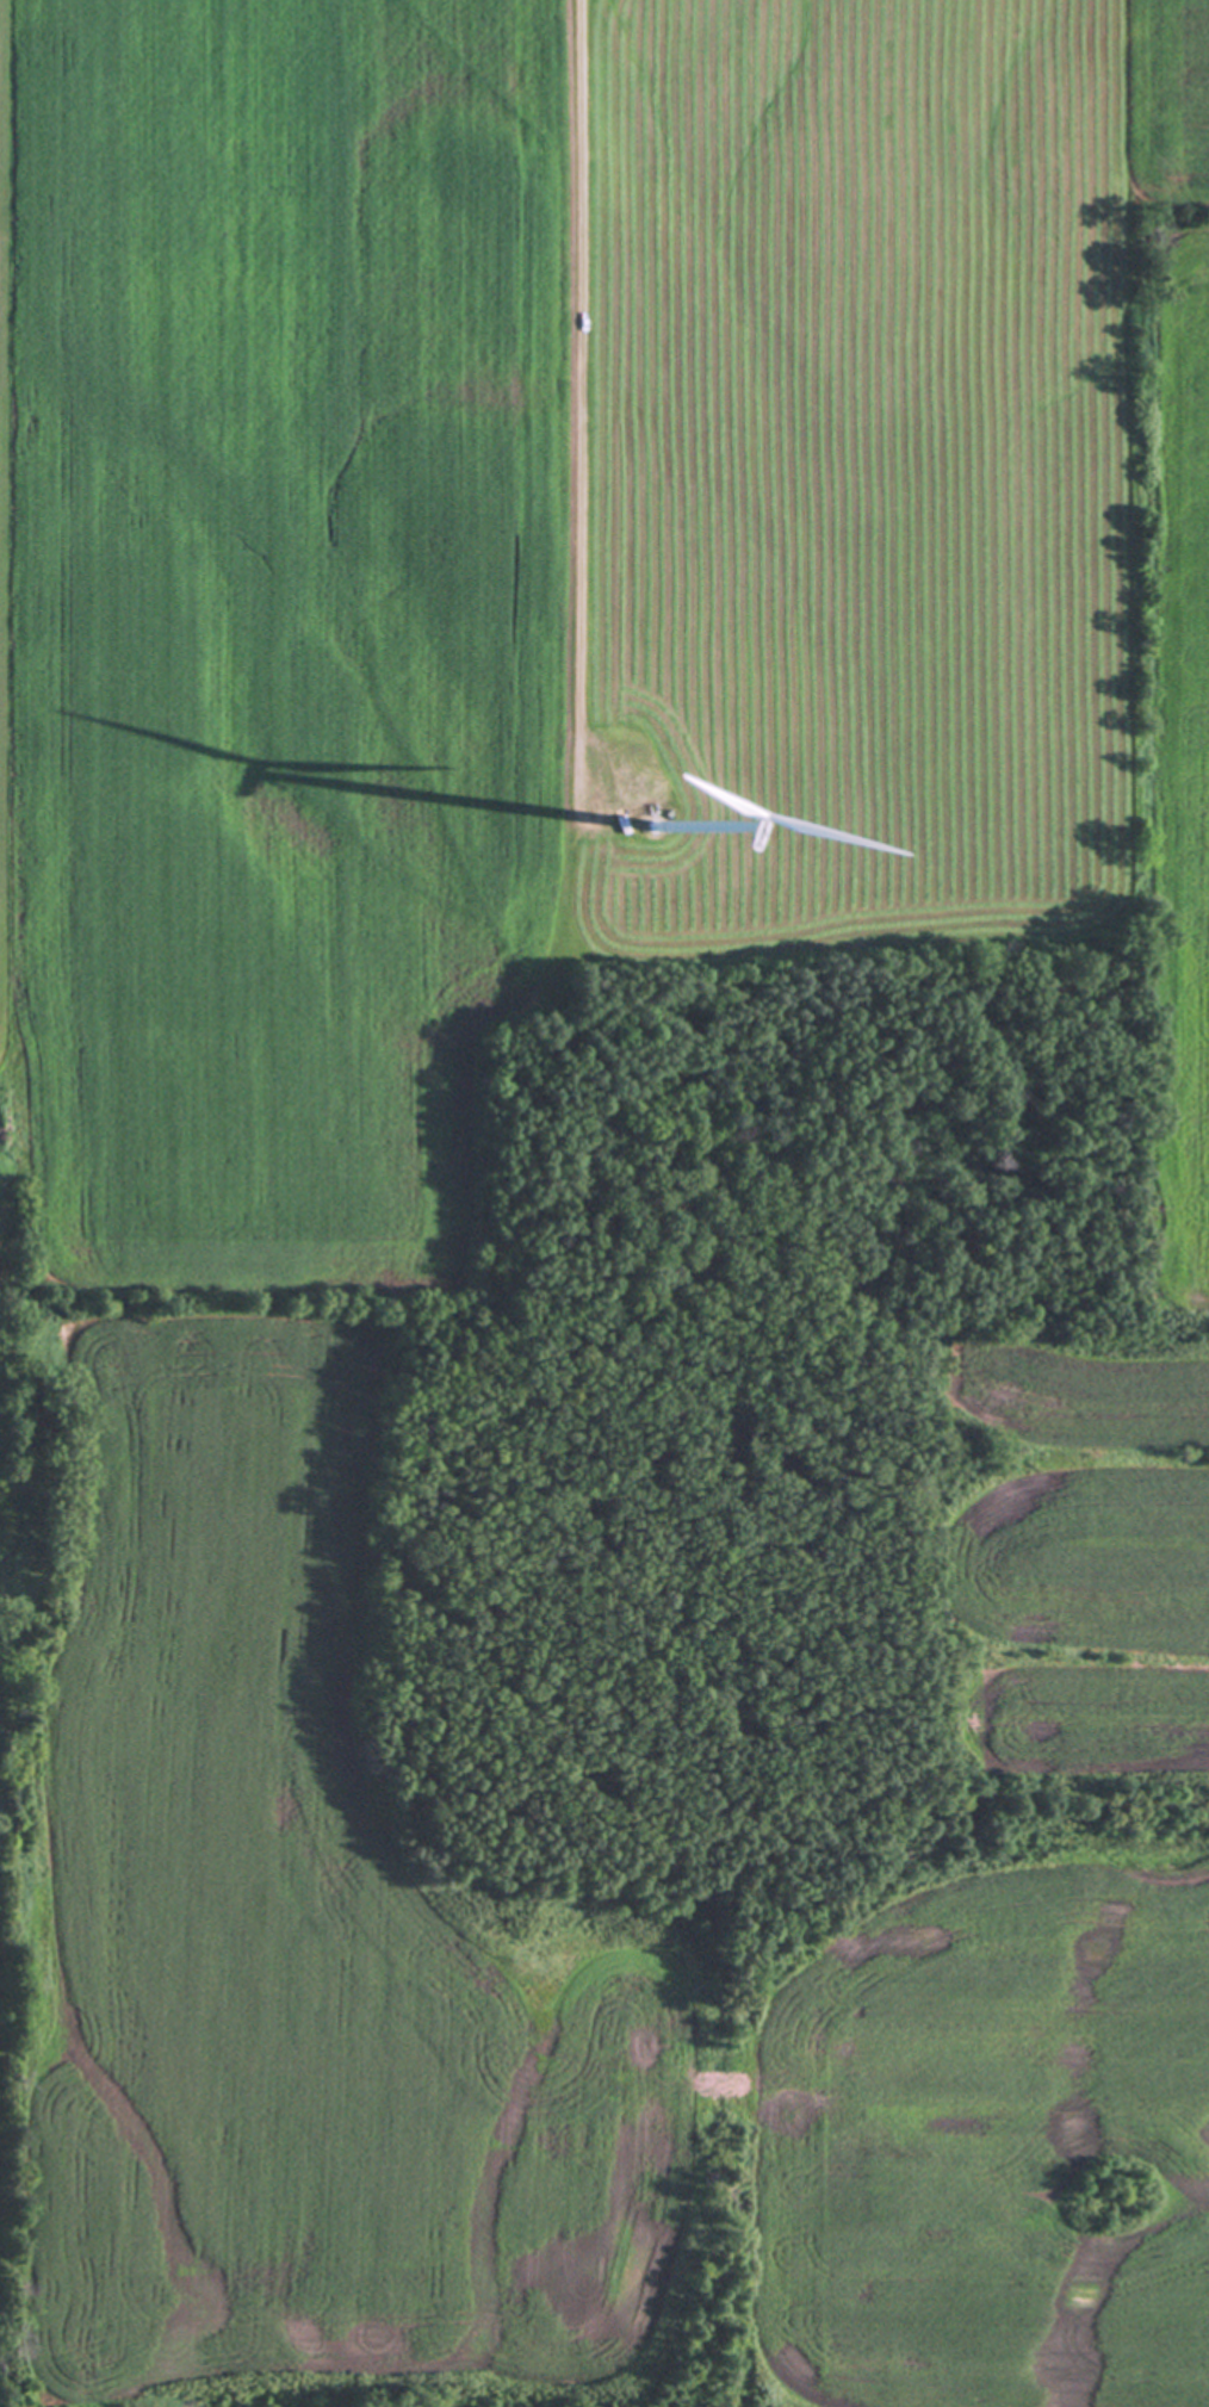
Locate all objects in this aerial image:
road: (576, 421)
wind turbine: (649, 823)

